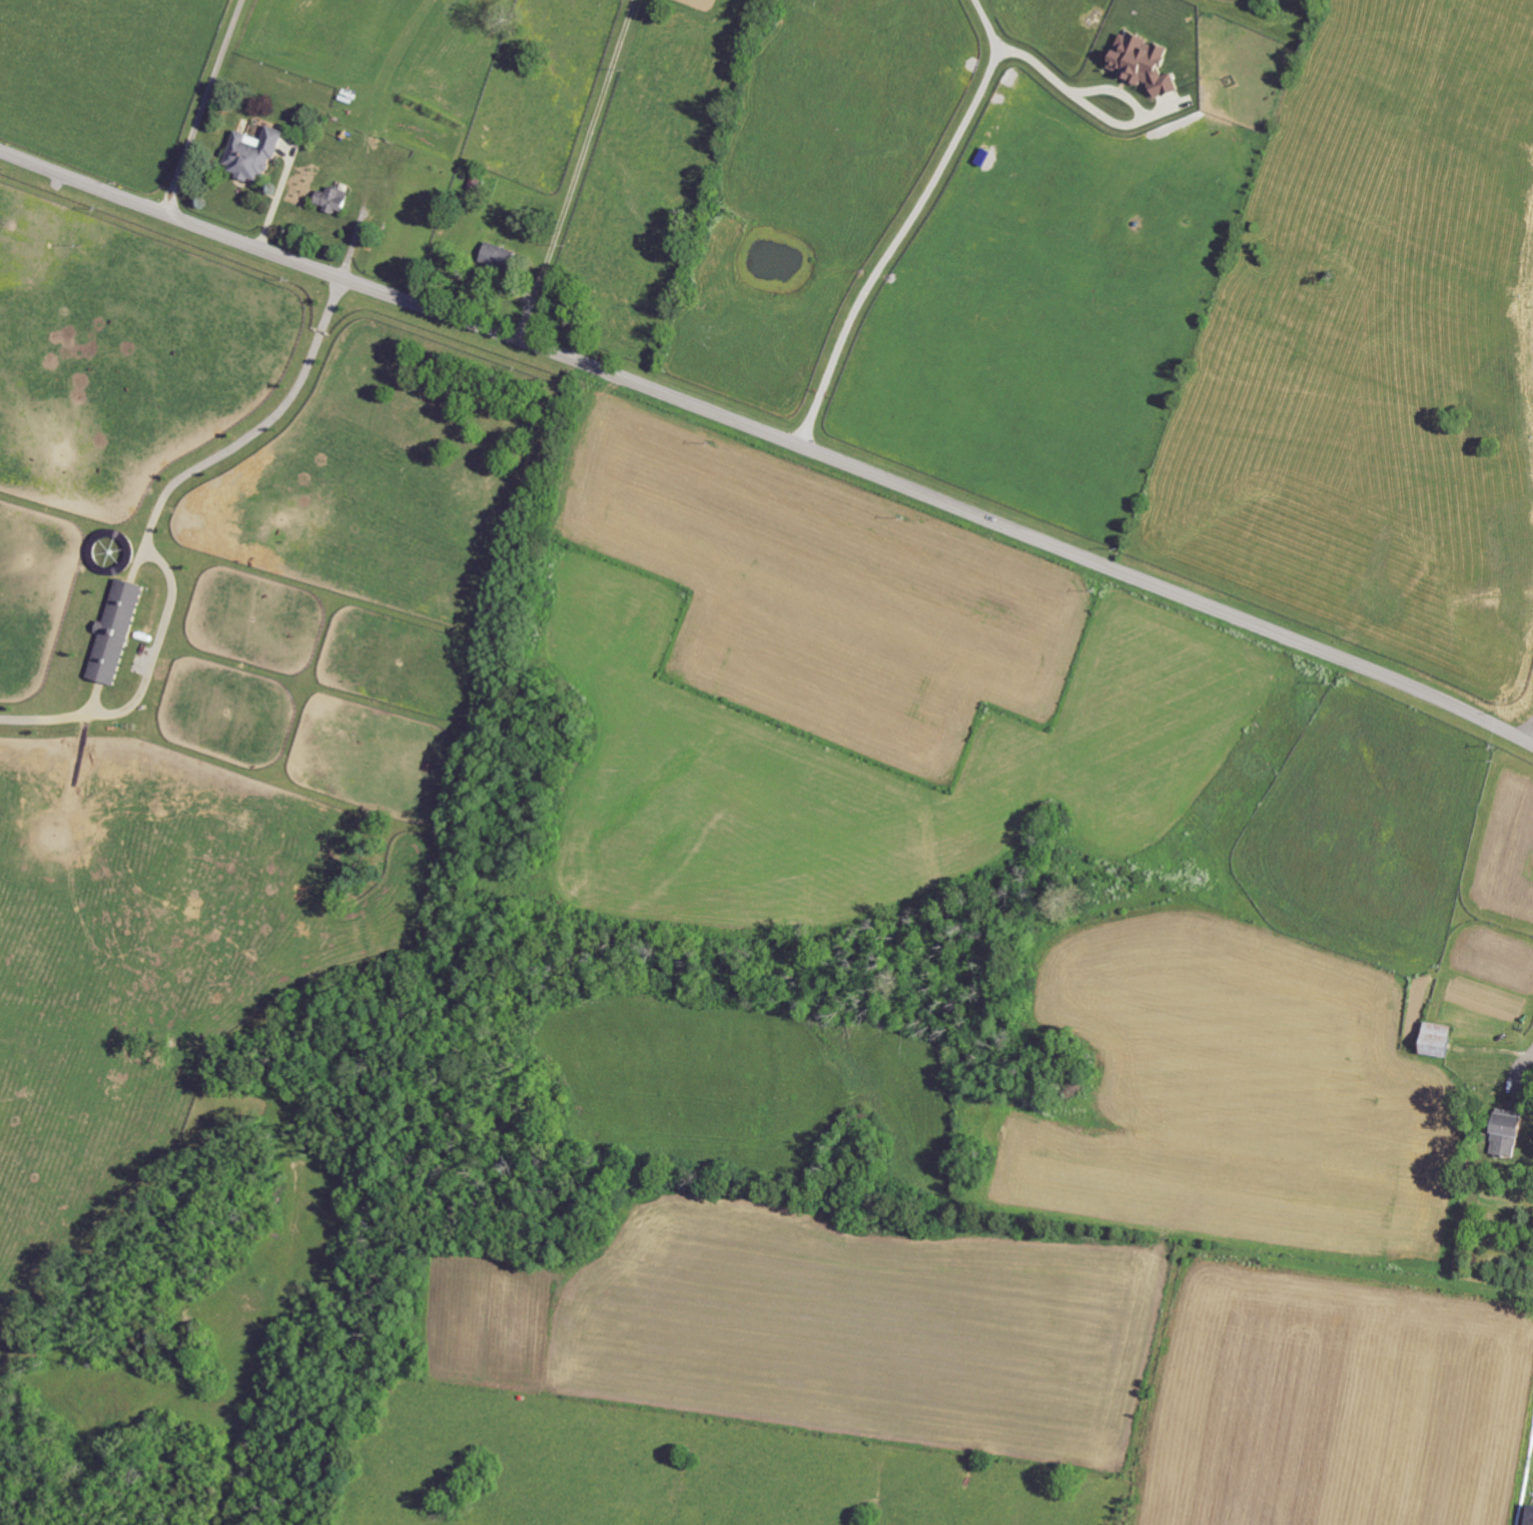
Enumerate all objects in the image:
building: (1143, 63)
road: (1106, 93)
road: (204, 106)
building: (253, 152)
road: (577, 169)
building: (332, 198)
road: (909, 221)
building: (499, 256)
road: (771, 432)
road: (151, 528)
building: (114, 631)
building: (1437, 1039)
building: (1507, 1133)
building: (1530, 1516)

